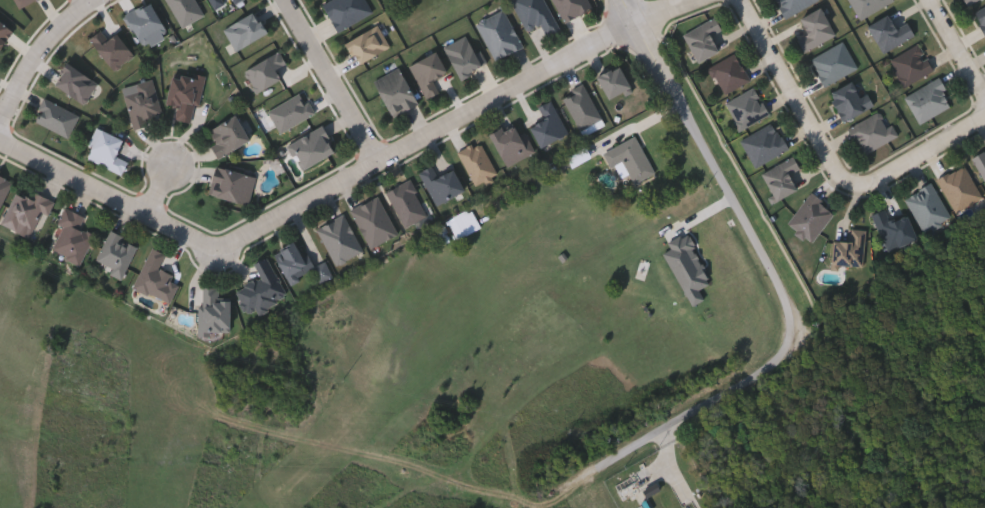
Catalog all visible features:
building: (237, 0)
road: (89, 1)
building: (969, 1)
building: (218, 2)
building: (792, 5)
building: (867, 6)
building: (188, 9)
building: (537, 14)
building: (980, 16)
building: (147, 23)
building: (814, 28)
building: (246, 29)
building: (888, 31)
building: (499, 32)
building: (702, 37)
road: (957, 45)
building: (465, 54)
road: (37, 55)
building: (834, 61)
building: (912, 64)
building: (729, 72)
road: (335, 81)
building: (396, 90)
building: (186, 91)
road: (792, 93)
building: (849, 99)
building: (928, 99)
building: (144, 101)
building: (582, 104)
building: (747, 107)
building: (292, 110)
building: (57, 115)
building: (873, 130)
building: (228, 133)
building: (512, 141)
building: (764, 143)
building: (313, 145)
building: (107, 149)
road: (916, 153)
building: (632, 157)
building: (478, 161)
building: (980, 161)
building: (781, 176)
road: (349, 179)
building: (442, 182)
building: (232, 183)
building: (4, 187)
road: (160, 187)
building: (959, 187)
building: (927, 206)
building: (27, 212)
building: (810, 216)
building: (374, 220)
building: (893, 228)
building: (73, 235)
building: (340, 237)
building: (849, 248)
building: (117, 252)
building: (291, 261)
building: (323, 270)
building: (156, 276)
building: (262, 287)
road: (790, 303)
building: (214, 310)

